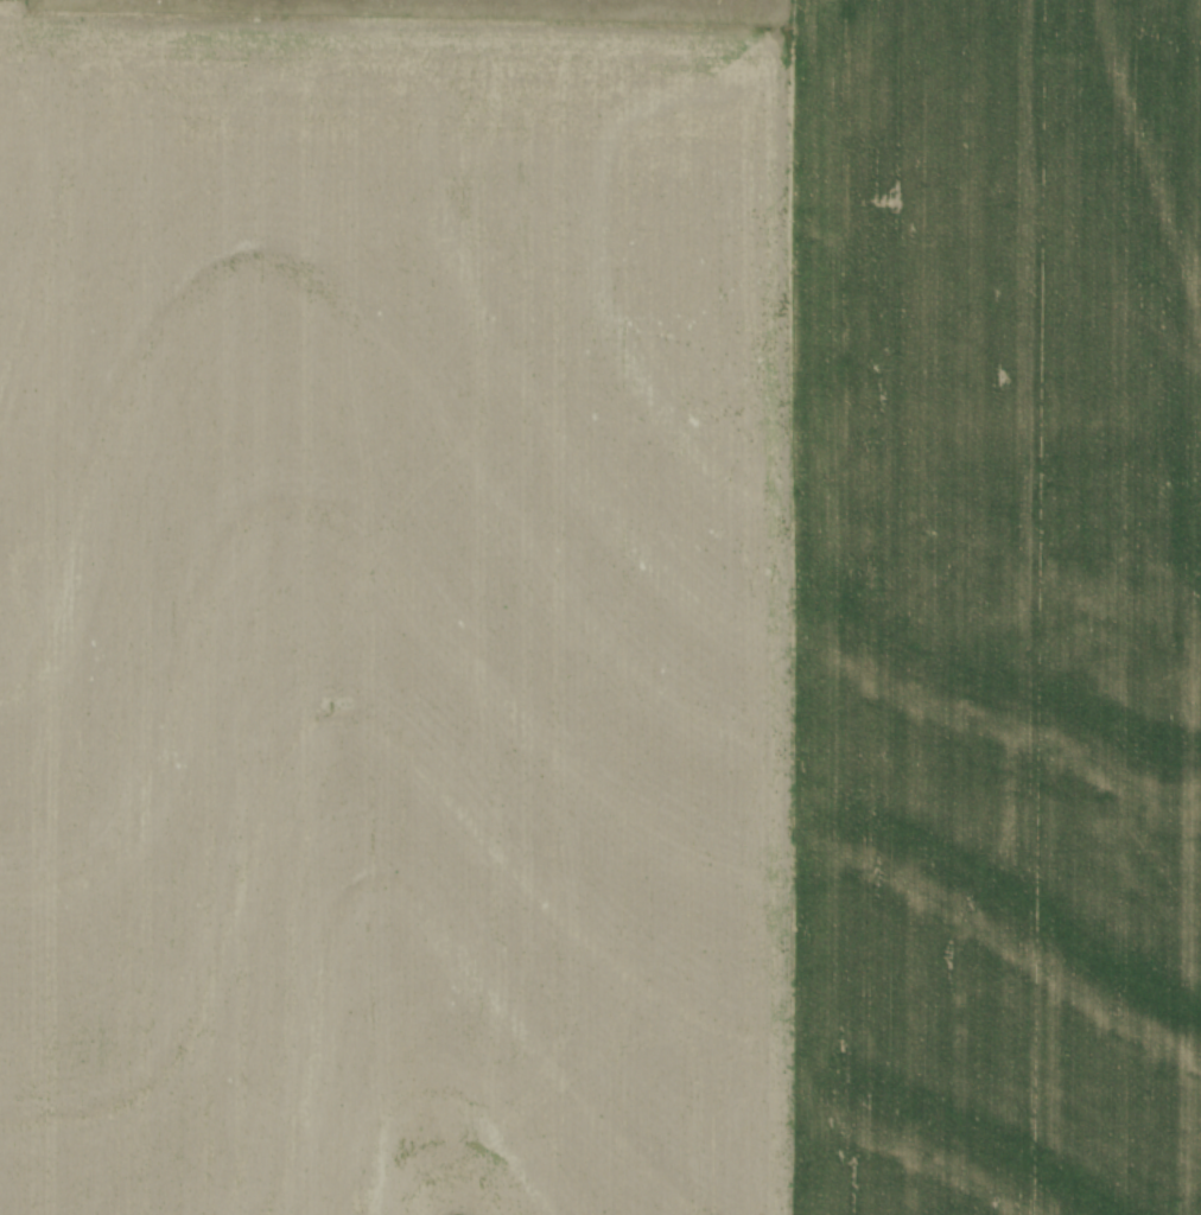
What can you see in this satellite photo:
crop: (993, 607)

